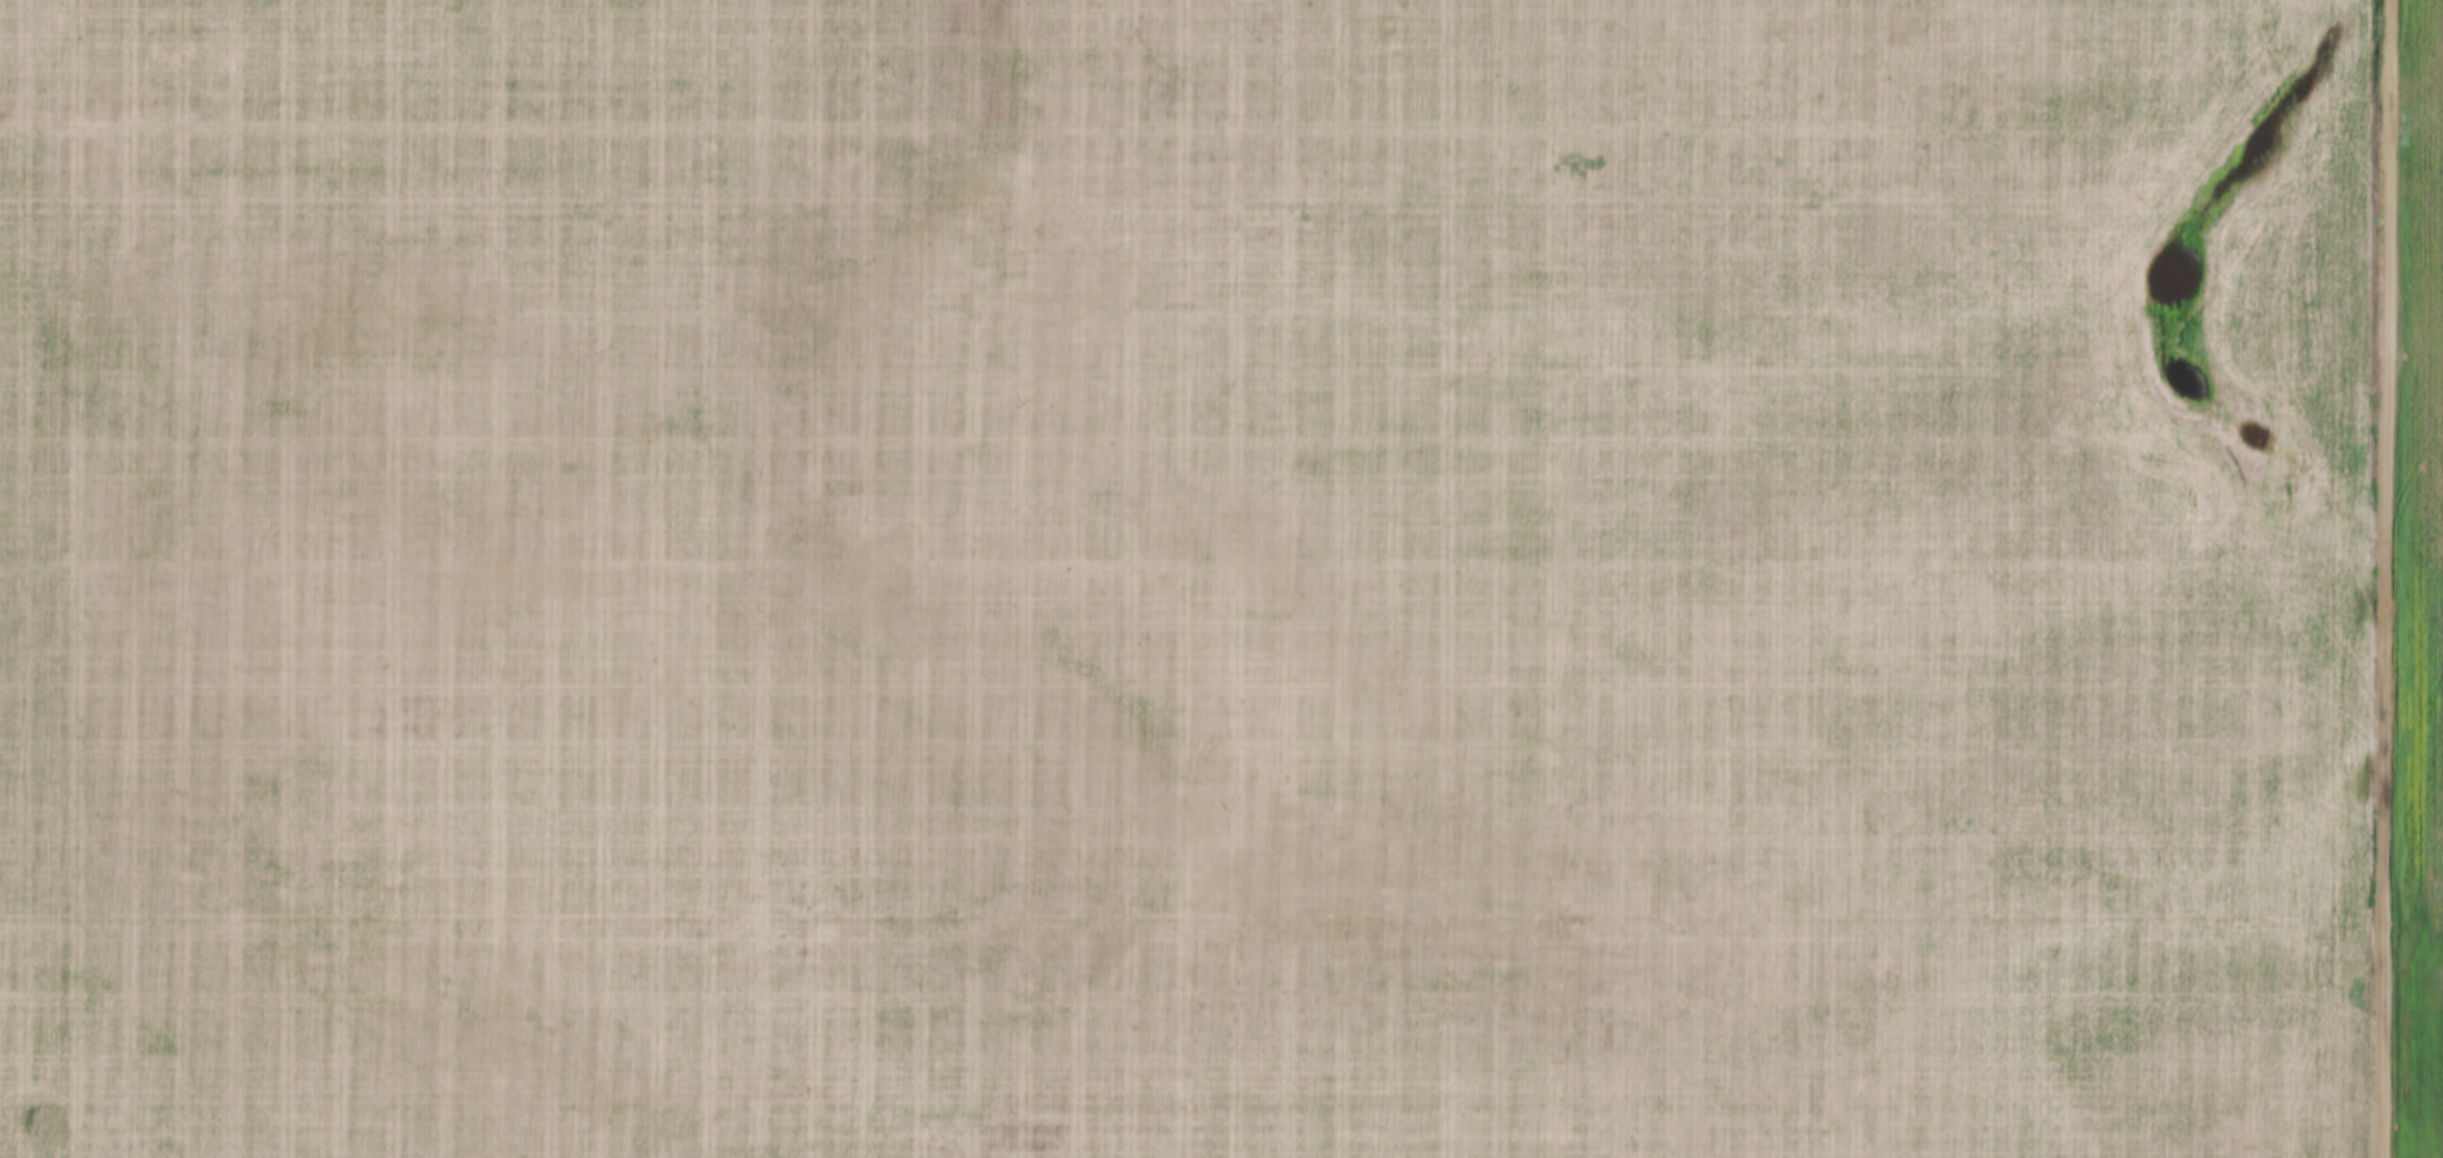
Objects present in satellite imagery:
road: (2387, 579)

